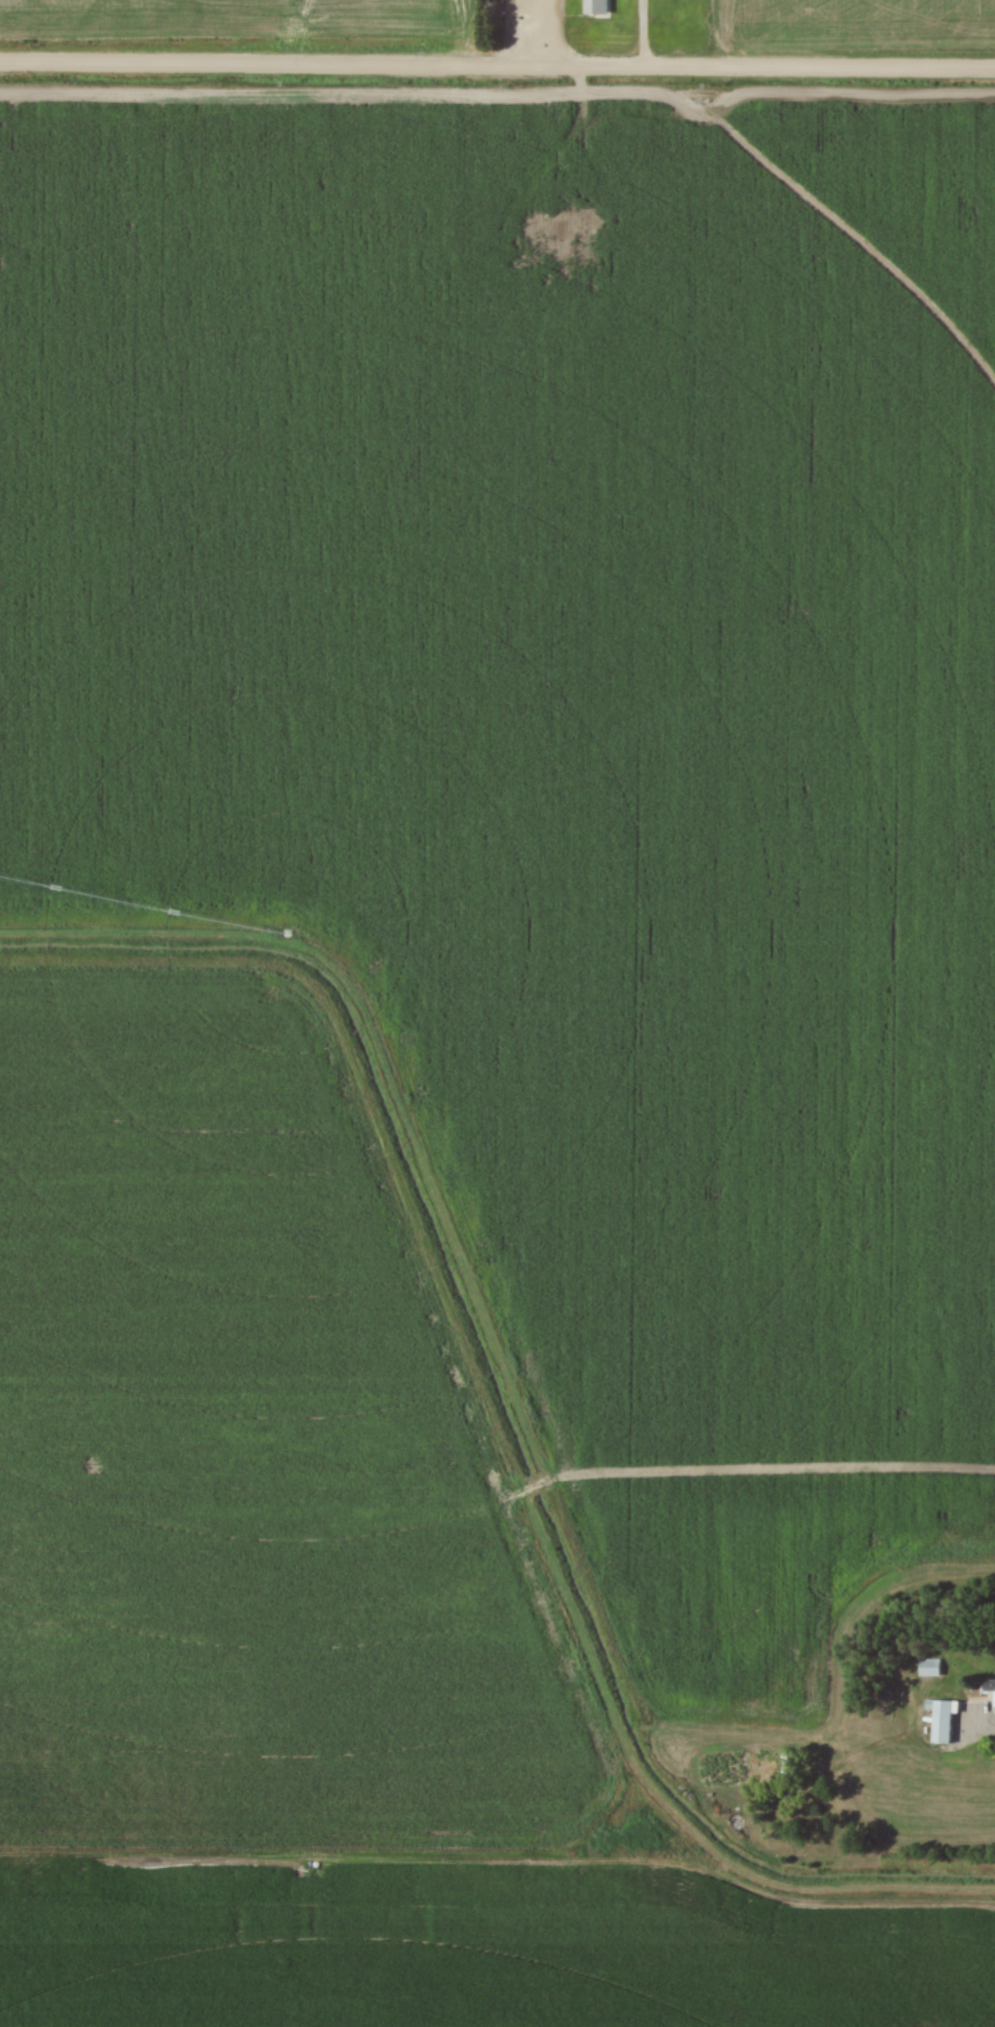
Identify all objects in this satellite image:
building: (598, 6)
crop: (241, 21)
crop: (853, 25)
road: (546, 33)
road: (641, 33)
road: (497, 65)
crop: (567, 740)
crop: (303, 1593)
building: (930, 1665)
building: (991, 1684)
building: (943, 1717)
road: (978, 1728)
building: (789, 1761)

